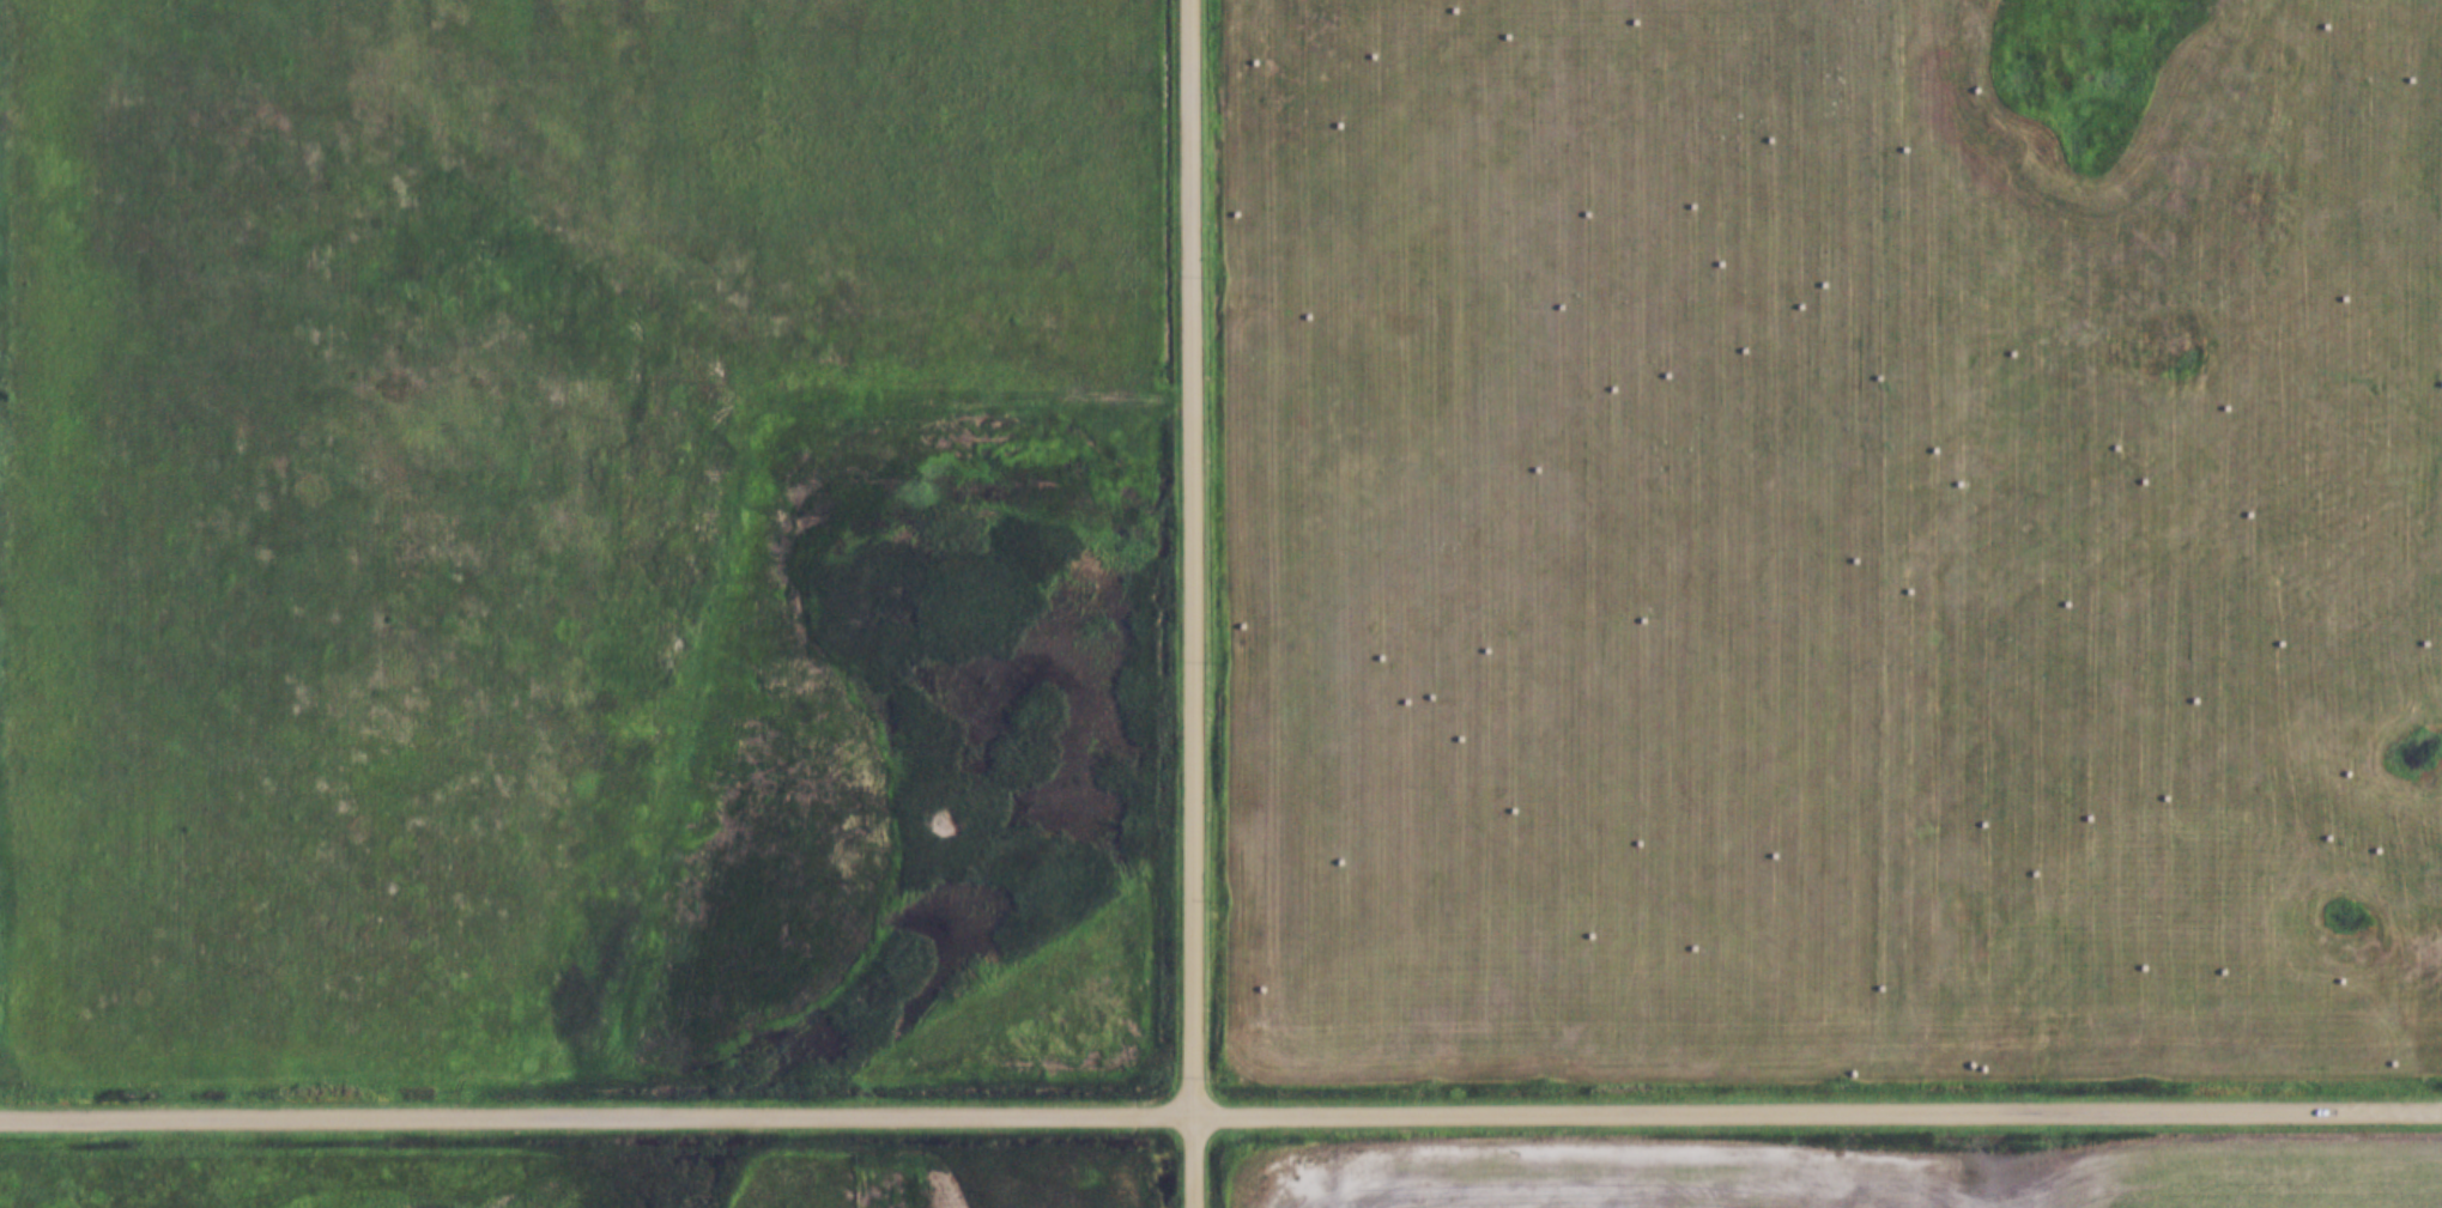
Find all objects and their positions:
road: (1192, 603)
road: (1220, 1113)

